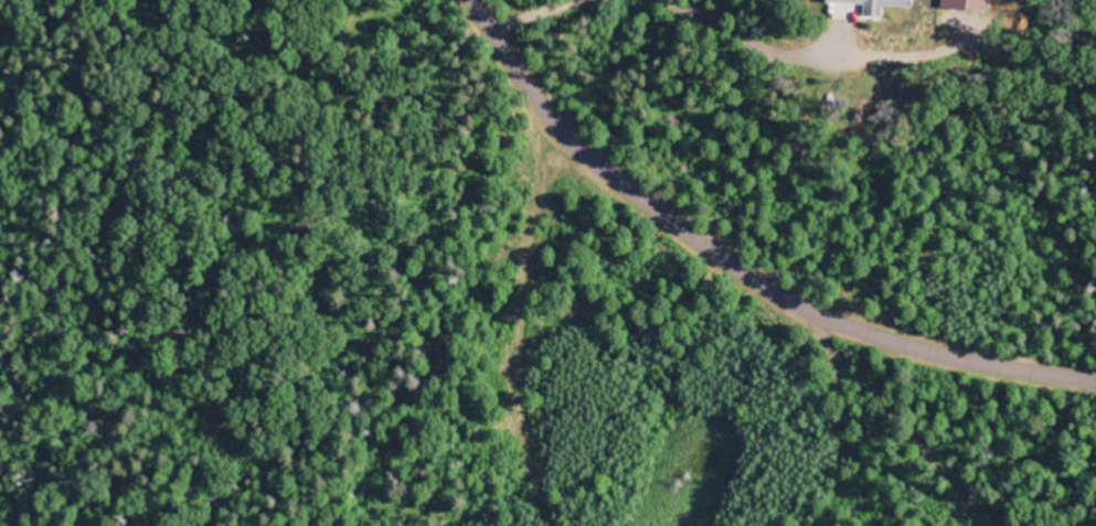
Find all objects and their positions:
building: (858, 1)
road: (509, 92)
road: (802, 341)
road: (491, 354)
road: (810, 440)

